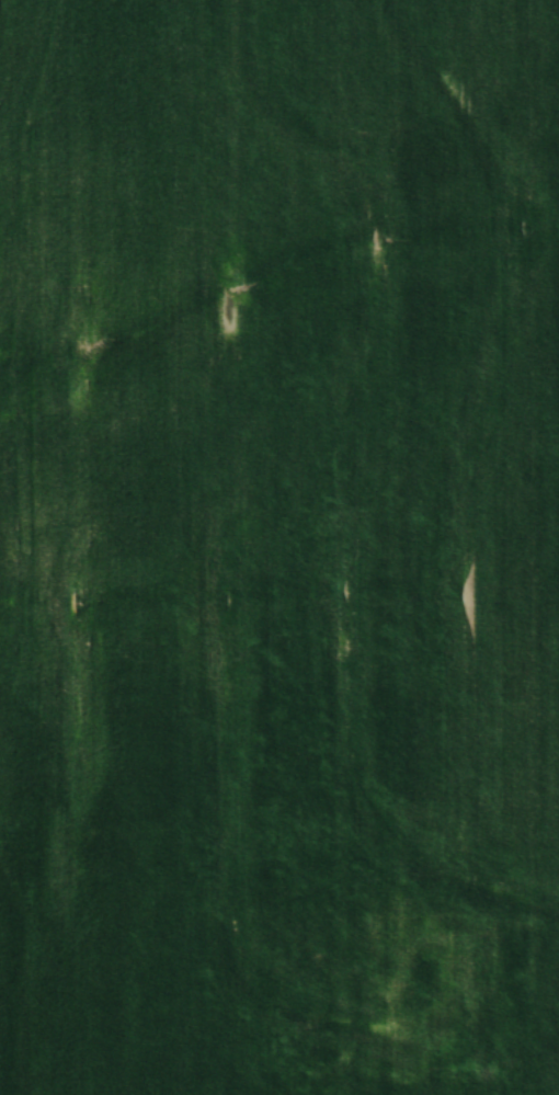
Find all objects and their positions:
building: (366, 966)

